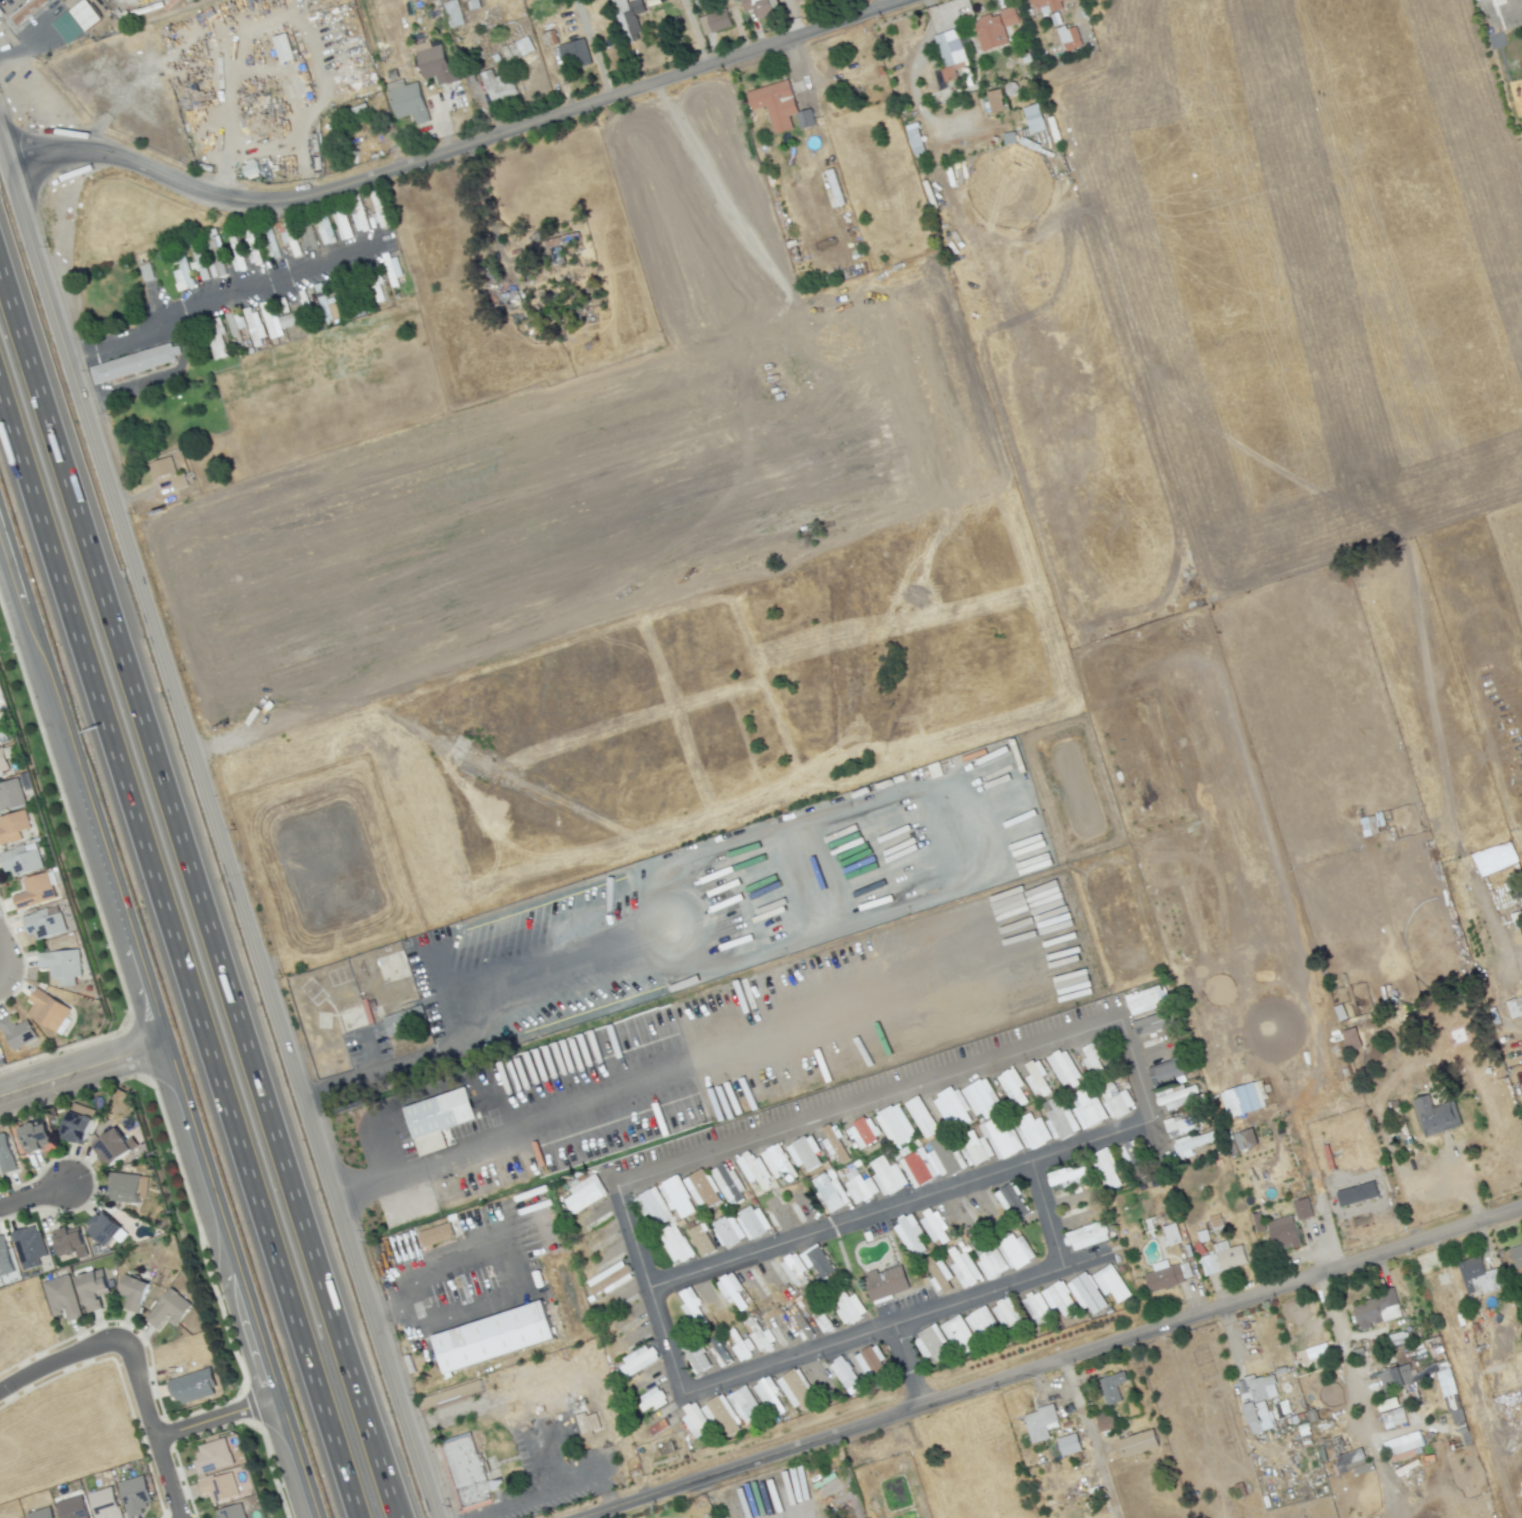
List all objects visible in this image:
building: (530, 0)
building: (1049, 4)
road: (1520, 6)
building: (759, 7)
road: (785, 9)
building: (27, 11)
building: (456, 13)
building: (632, 18)
building: (76, 21)
building: (721, 21)
road: (789, 28)
building: (994, 28)
building: (1068, 37)
building: (551, 39)
building: (282, 47)
building: (517, 48)
road: (593, 49)
building: (949, 53)
building: (862, 55)
building: (582, 56)
building: (440, 64)
building: (938, 78)
building: (503, 93)
building: (994, 100)
building: (412, 103)
building: (778, 103)
building: (354, 112)
building: (1033, 118)
building: (810, 122)
building: (1008, 137)
road: (459, 148)
road: (2, 161)
building: (358, 217)
building: (343, 227)
building: (325, 230)
building: (564, 241)
building: (235, 254)
building: (561, 257)
building: (199, 264)
building: (392, 269)
building: (145, 274)
building: (182, 275)
road: (228, 301)
building: (326, 309)
building: (276, 319)
building: (253, 326)
building: (216, 337)
building: (134, 362)
building: (169, 473)
building: (1, 742)
building: (4, 760)
building: (12, 796)
building: (14, 828)
road: (220, 843)
building: (24, 861)
road: (204, 890)
building: (37, 893)
building: (1517, 919)
building: (47, 926)
road: (177, 958)
road: (659, 959)
road: (5, 963)
building: (64, 964)
road: (5, 981)
building: (1146, 999)
building: (1516, 1011)
building: (51, 1012)
building: (403, 1019)
building: (1151, 1023)
road: (155, 1027)
building: (20, 1034)
building: (1350, 1038)
road: (368, 1052)
building: (1092, 1059)
building: (1063, 1068)
road: (1137, 1069)
road: (80, 1070)
building: (1037, 1079)
road: (338, 1083)
building: (1012, 1087)
building: (1178, 1097)
building: (981, 1098)
building: (1239, 1099)
building: (1114, 1100)
building: (951, 1107)
building: (1086, 1109)
building: (1435, 1115)
building: (445, 1116)
building: (921, 1117)
building: (1060, 1118)
building: (1181, 1124)
building: (894, 1125)
building: (80, 1130)
building: (863, 1131)
building: (1031, 1131)
building: (1000, 1136)
building: (38, 1139)
building: (1245, 1139)
building: (834, 1143)
building: (1192, 1143)
building: (974, 1148)
building: (115, 1151)
building: (804, 1152)
building: (1128, 1153)
building: (8, 1157)
building: (778, 1162)
building: (929, 1162)
building: (1106, 1169)
building: (754, 1171)
building: (886, 1176)
building: (1066, 1176)
building: (728, 1184)
building: (859, 1187)
building: (700, 1189)
building: (128, 1190)
building: (830, 1192)
road: (32, 1194)
building: (584, 1194)
building: (1356, 1194)
building: (676, 1196)
building: (1004, 1197)
building: (652, 1206)
building: (1301, 1208)
road: (1047, 1215)
building: (751, 1221)
building: (933, 1226)
building: (1220, 1228)
building: (728, 1230)
building: (107, 1232)
building: (1283, 1233)
building: (435, 1234)
building: (1086, 1235)
building: (910, 1236)
building: (1174, 1237)
building: (701, 1240)
building: (674, 1243)
building: (71, 1247)
building: (1521, 1247)
building: (31, 1249)
building: (1002, 1254)
building: (6, 1259)
building: (816, 1260)
building: (1226, 1260)
building: (963, 1268)
building: (794, 1270)
building: (939, 1274)
building: (1483, 1275)
building: (609, 1278)
building: (1172, 1278)
road: (526, 1280)
building: (885, 1282)
building: (1110, 1282)
building: (91, 1288)
building: (731, 1289)
building: (132, 1292)
building: (1086, 1293)
building: (61, 1297)
building: (1058, 1298)
building: (690, 1304)
building: (848, 1308)
building: (1036, 1308)
building: (168, 1309)
building: (1381, 1310)
building: (1005, 1314)
building: (980, 1322)
building: (958, 1335)
building: (759, 1336)
building: (499, 1341)
building: (930, 1342)
building: (718, 1351)
building: (1316, 1351)
building: (695, 1357)
building: (638, 1360)
road: (787, 1361)
building: (870, 1361)
road: (58, 1363)
road: (1055, 1363)
road: (909, 1366)
building: (845, 1375)
building: (1394, 1377)
building: (1445, 1382)
building: (192, 1386)
building: (1114, 1387)
building: (795, 1390)
building: (769, 1397)
building: (651, 1399)
building: (1262, 1400)
building: (1452, 1402)
building: (744, 1405)
building: (1391, 1413)
road: (212, 1415)
building: (722, 1416)
building: (1108, 1420)
building: (695, 1421)
building: (1038, 1423)
road: (147, 1428)
road: (1088, 1439)
building: (1142, 1443)
building: (1402, 1443)
building: (1068, 1444)
building: (212, 1456)
building: (1350, 1462)
building: (465, 1471)
building: (218, 1487)
building: (133, 1495)
road: (537, 1498)
building: (104, 1503)
building: (71, 1508)
building: (230, 1512)
building: (41, 1513)

